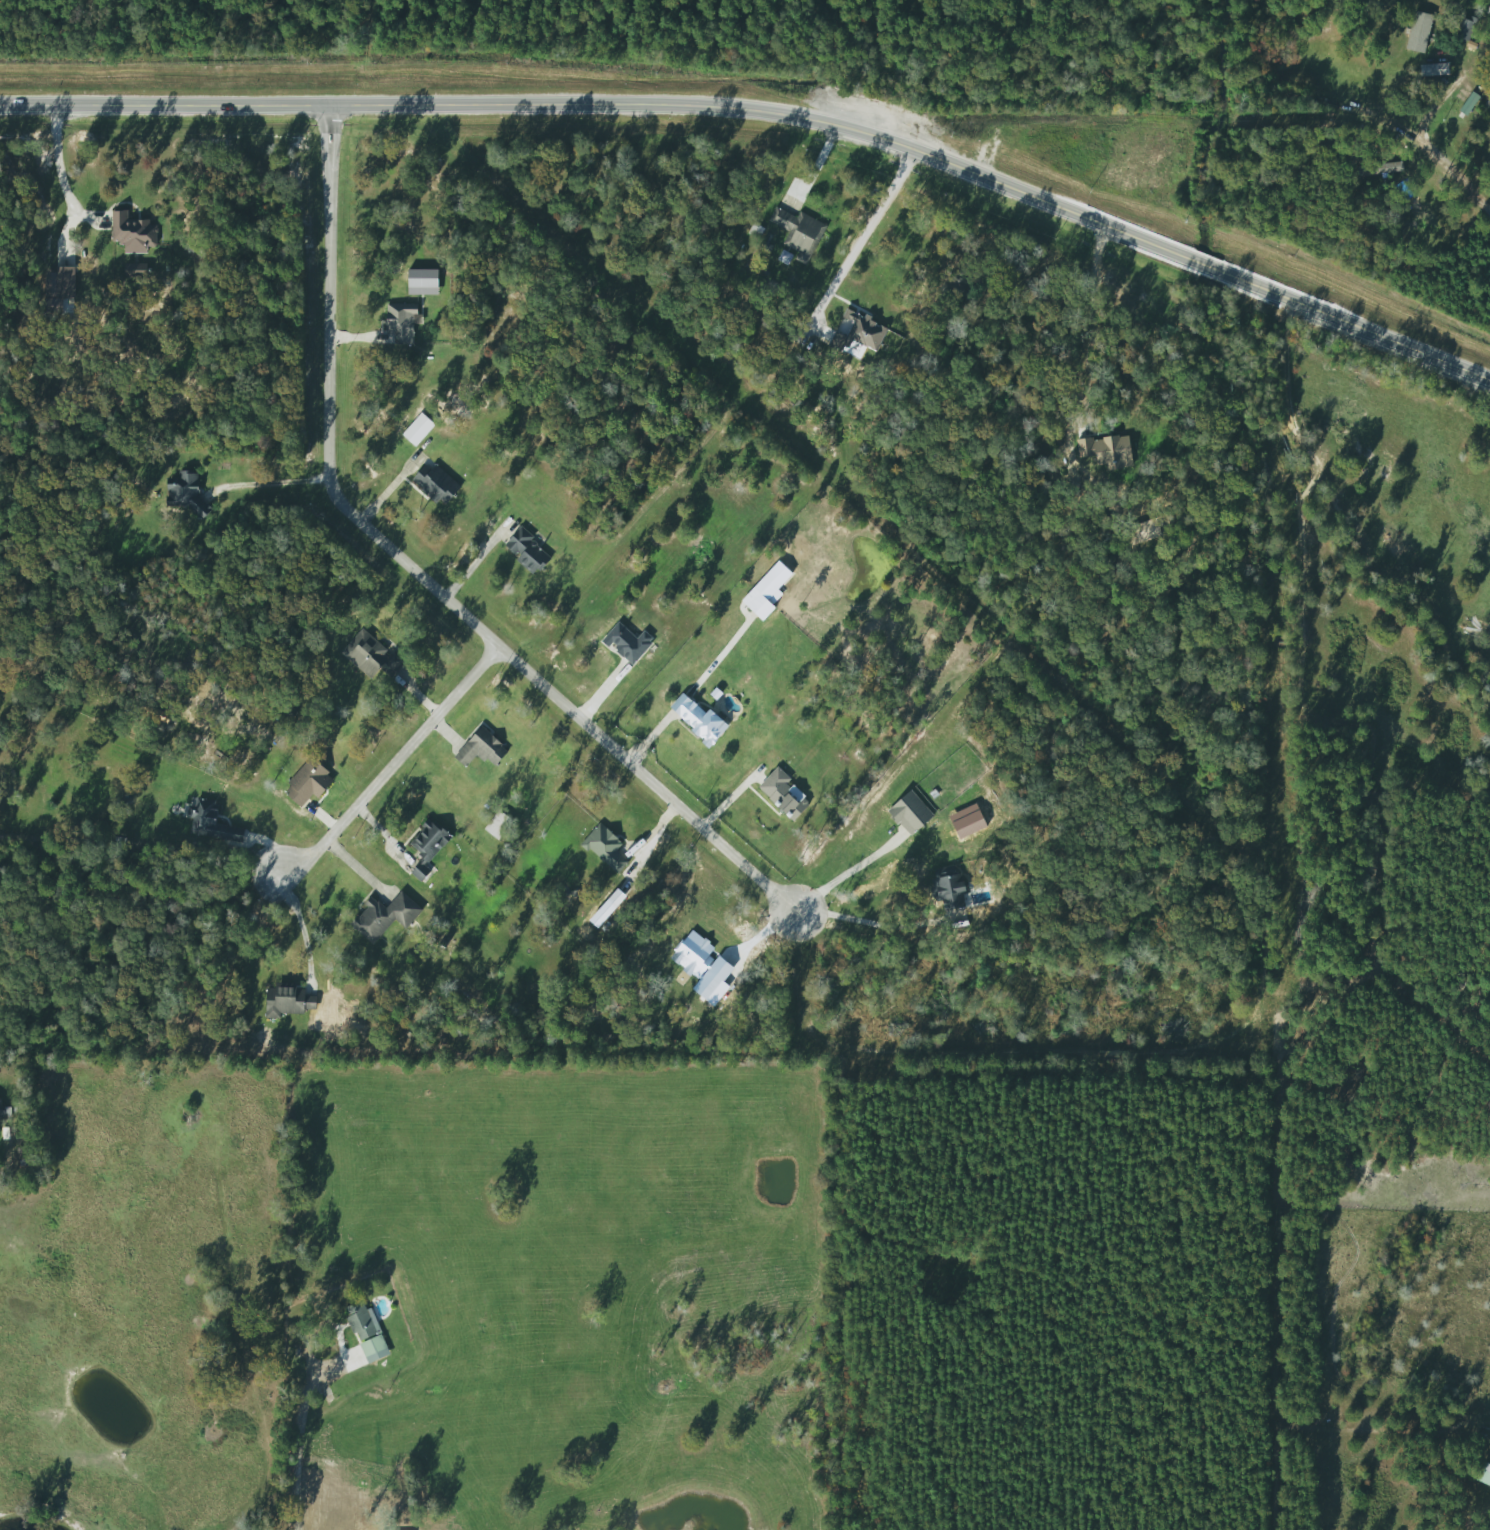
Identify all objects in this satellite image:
building: (1488, 8)
road: (769, 112)
road: (1445, 149)
road: (56, 172)
building: (797, 231)
road: (865, 234)
road: (1094, 319)
building: (399, 322)
building: (415, 429)
building: (434, 483)
road: (283, 485)
building: (525, 551)
road: (472, 567)
road: (416, 578)
building: (370, 656)
building: (701, 725)
road: (661, 726)
road: (391, 765)
building: (205, 820)
building: (425, 846)
building: (604, 848)
road: (849, 877)
building: (382, 916)
road: (300, 920)
road: (868, 927)
building: (286, 1001)
building: (0, 1109)
building: (365, 1331)
road: (299, 1449)
building: (1483, 1475)

